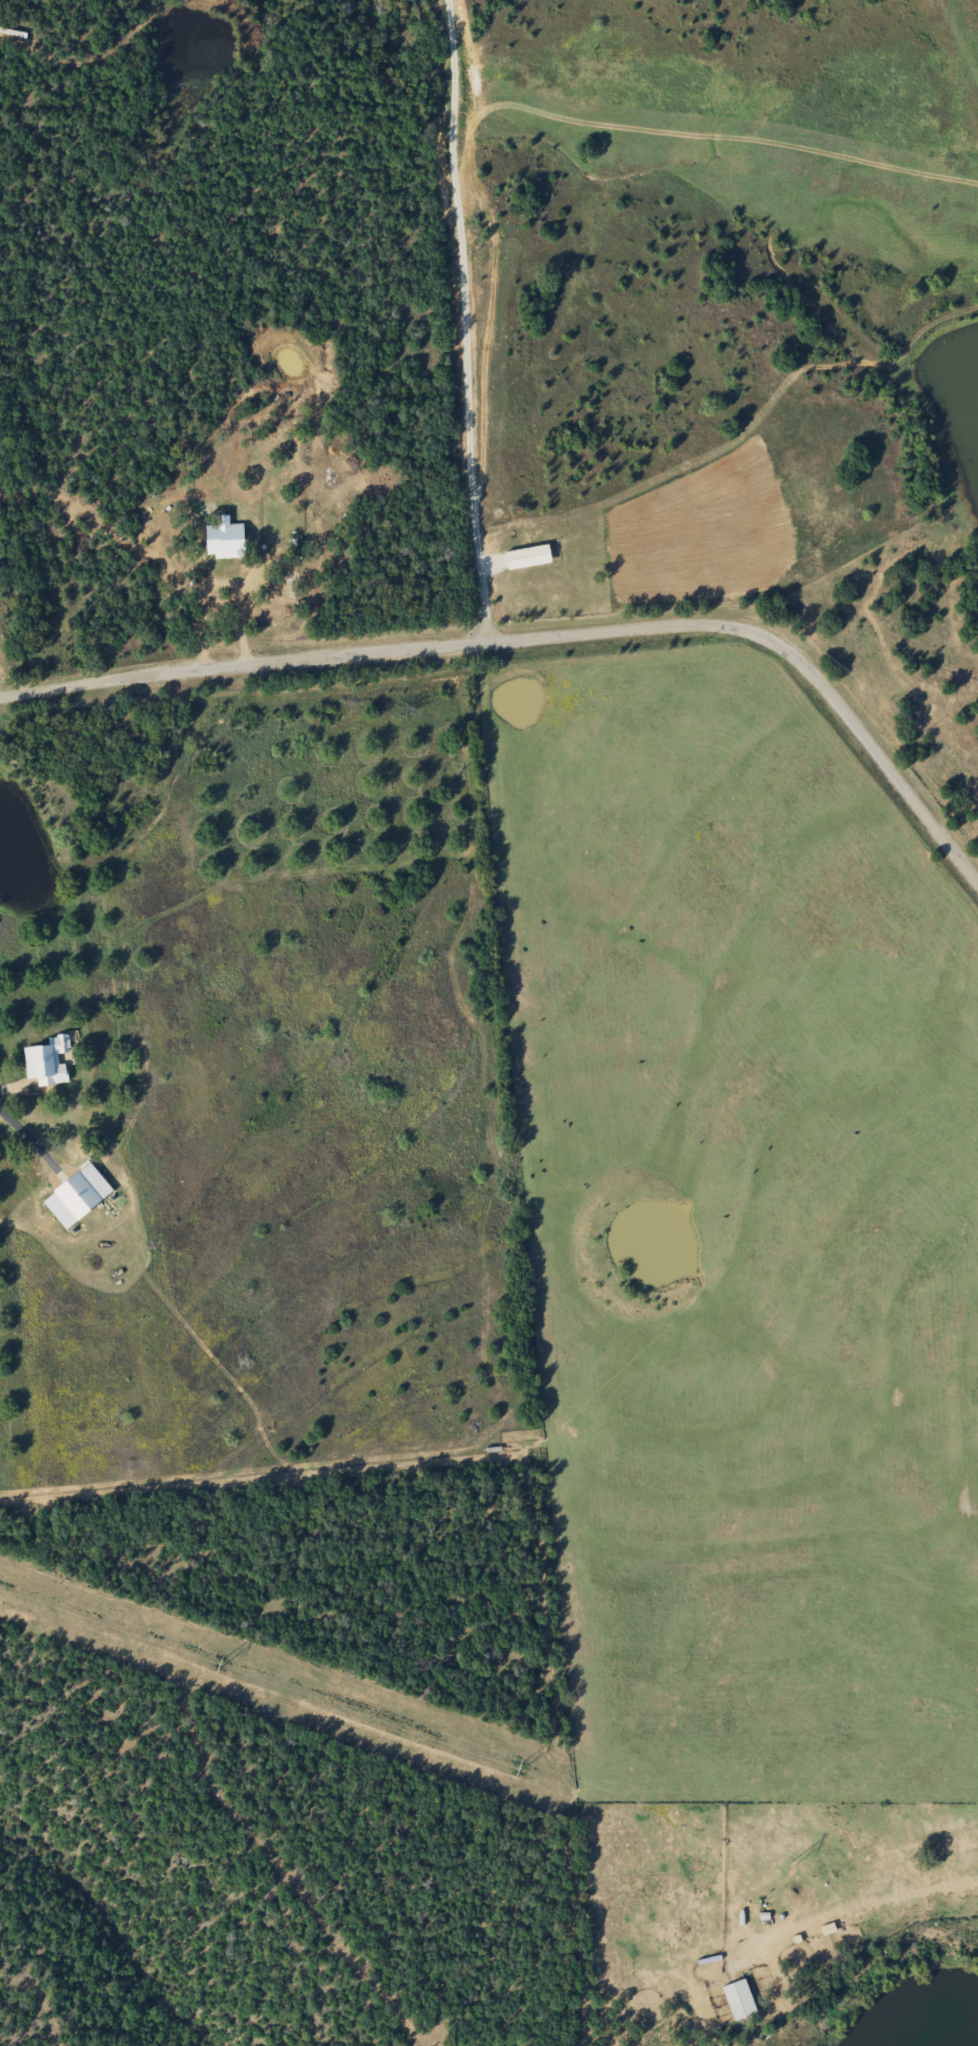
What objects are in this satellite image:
road: (452, 321)
building: (226, 541)
road: (240, 620)
road: (205, 625)
road: (546, 637)

